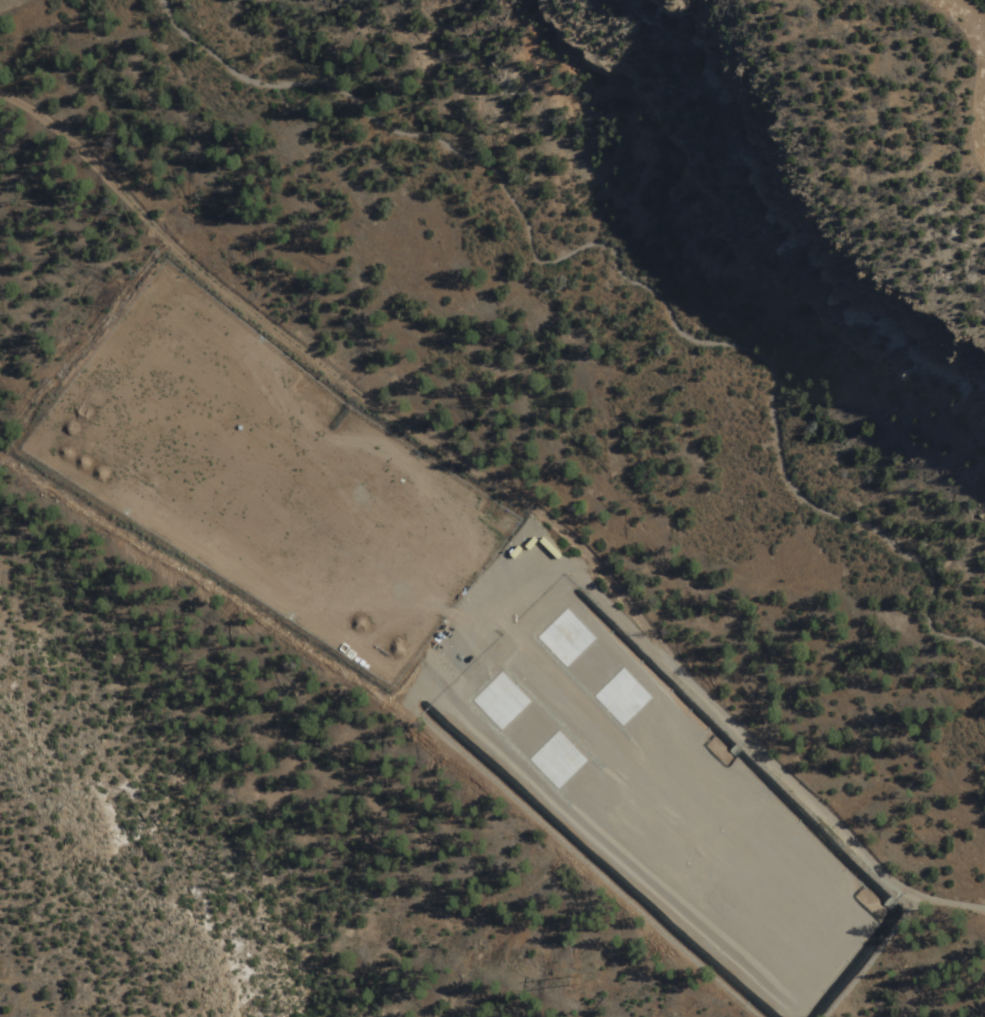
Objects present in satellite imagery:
road: (969, 23)
road: (984, 146)
parking lot: (280, 482)
road: (505, 492)

